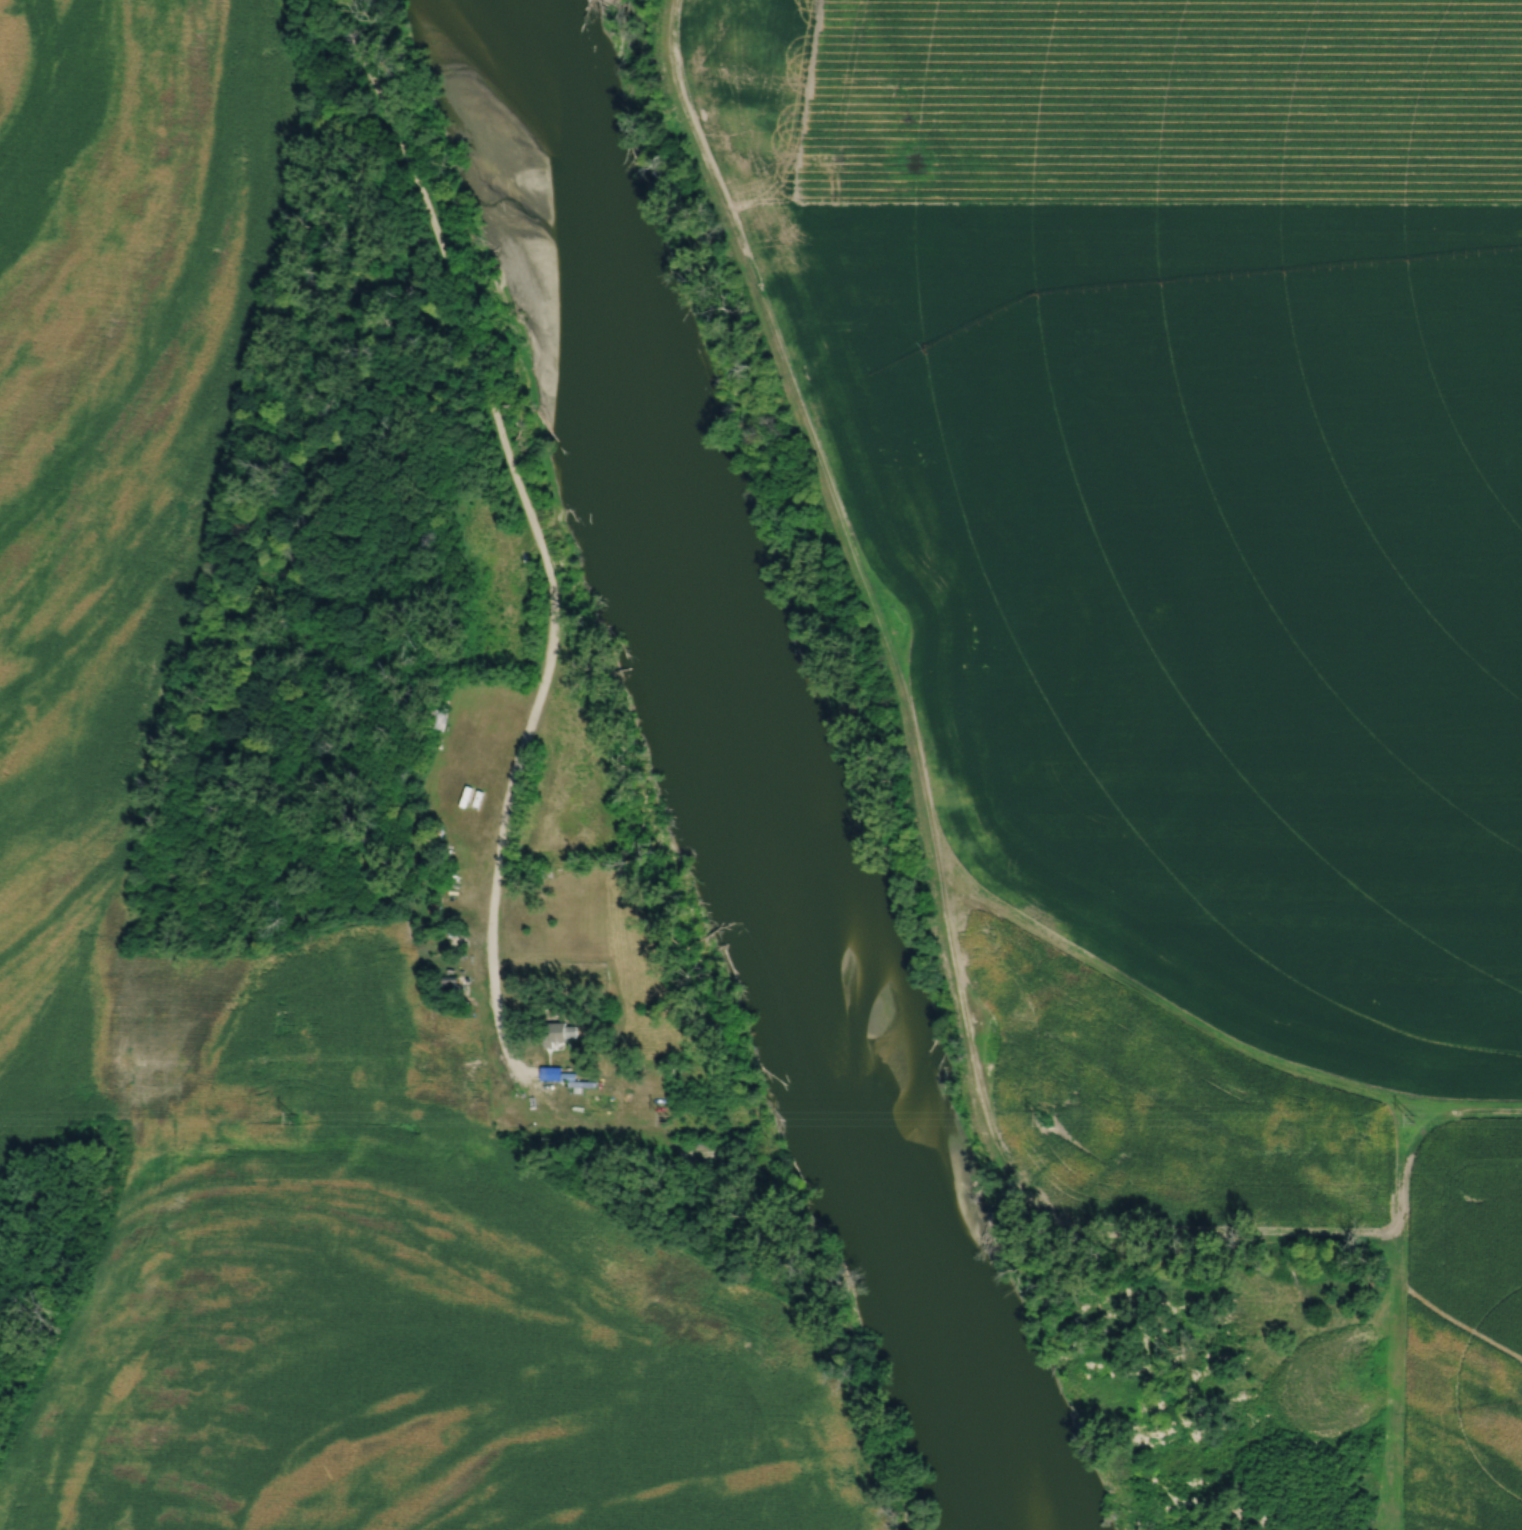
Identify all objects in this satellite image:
road: (526, 505)
river: (727, 771)
building: (452, 988)
building: (559, 1035)
power tower: (666, 1116)
power tower: (292, 1118)
power tower: (1042, 1120)
power tower: (1414, 1121)

